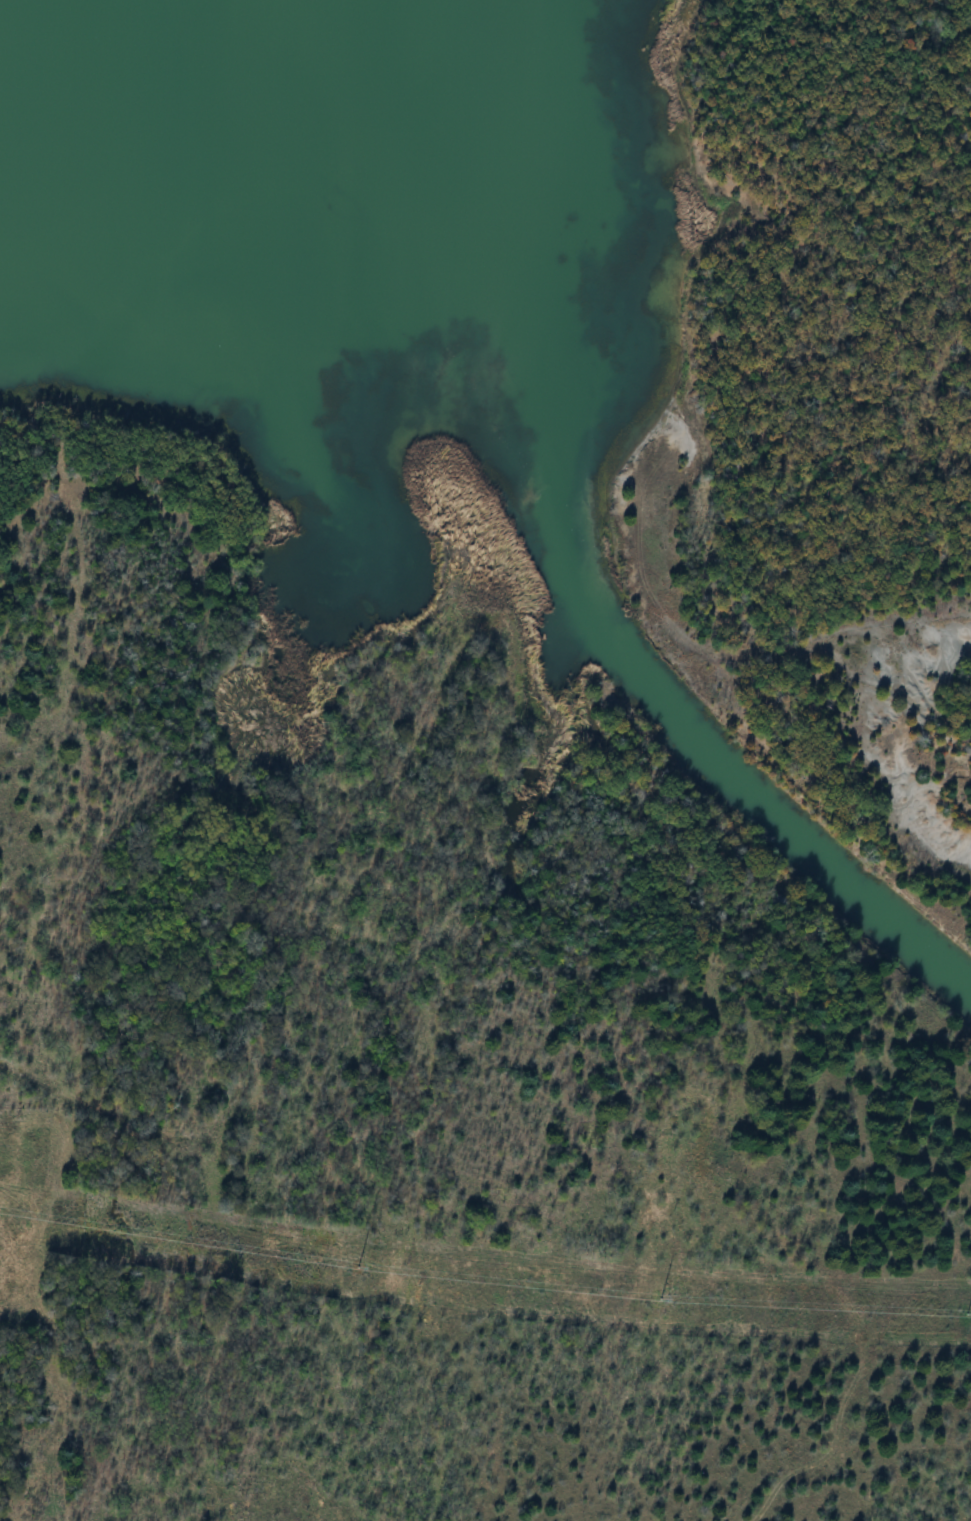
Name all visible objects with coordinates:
power tower: (358, 1268)
power tower: (659, 1299)
power tower: (966, 1315)

